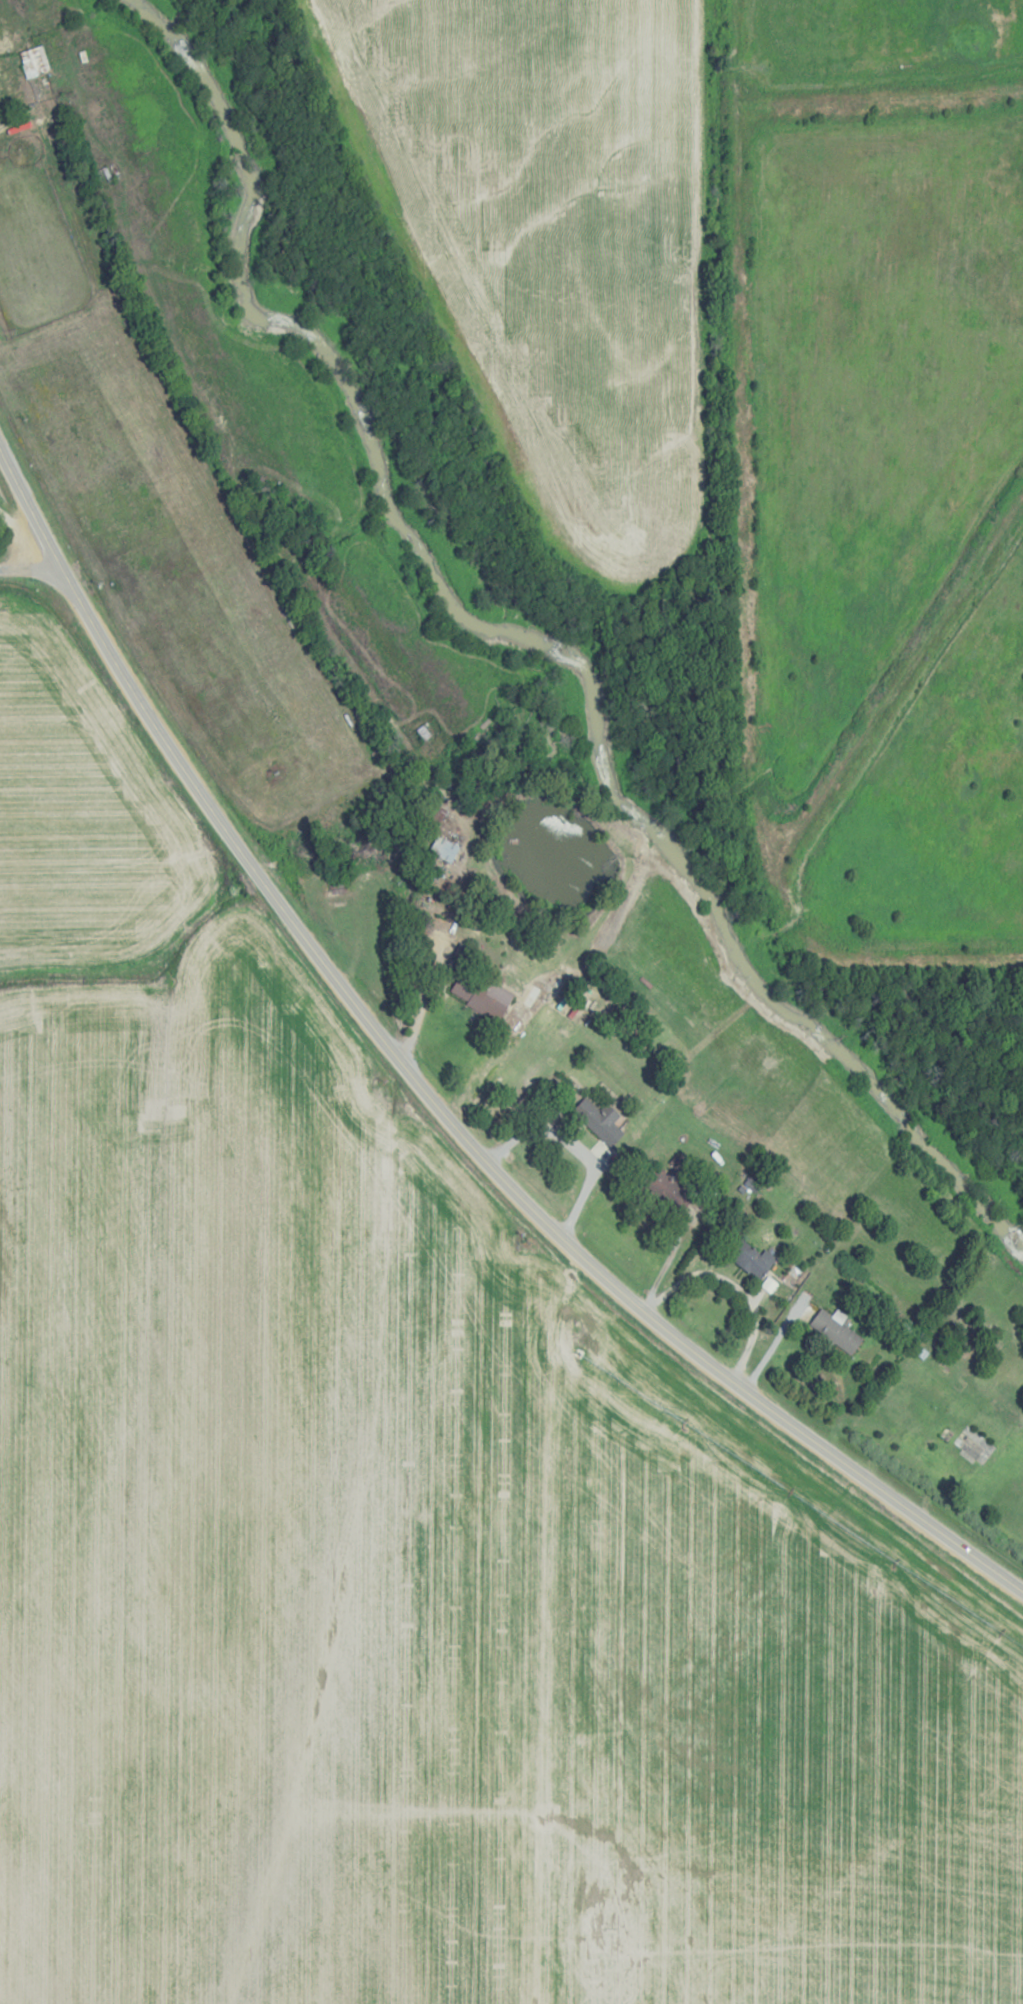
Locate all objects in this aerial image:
road: (13, 62)
building: (31, 62)
road: (824, 110)
road: (32, 572)
road: (744, 705)
building: (445, 850)
road: (426, 989)
building: (487, 1001)
road: (429, 1093)
building: (599, 1121)
building: (664, 1189)
building: (751, 1260)
building: (835, 1332)
building: (973, 1444)

